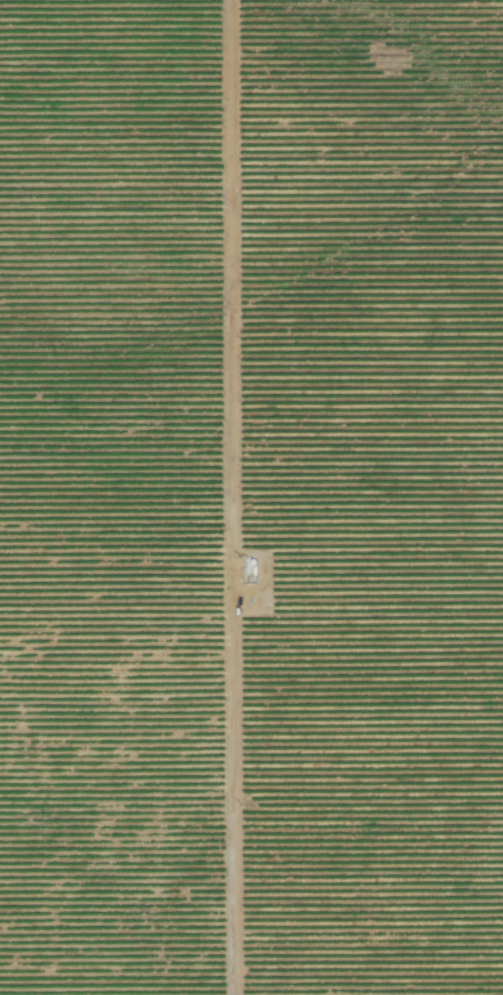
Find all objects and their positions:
crop: (251, 497)

